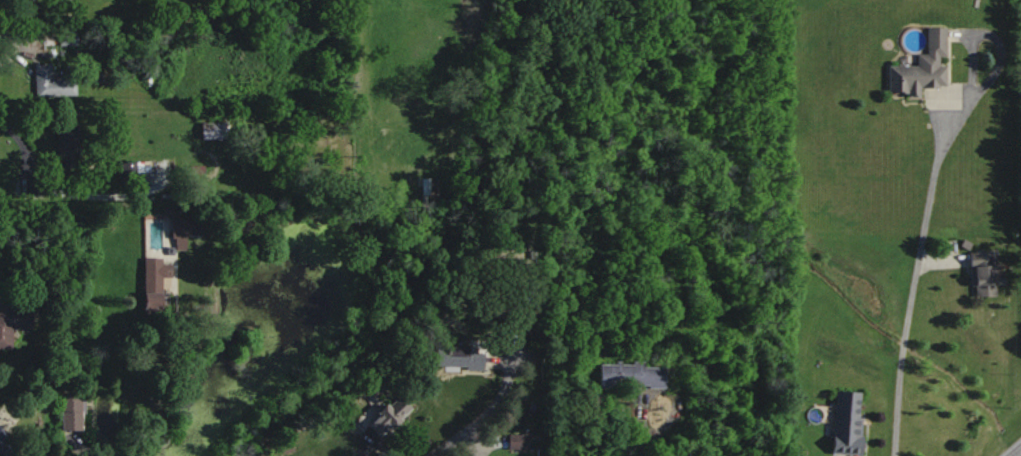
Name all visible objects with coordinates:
building: (70, 36)
road: (29, 47)
building: (918, 66)
building: (55, 82)
building: (217, 129)
building: (70, 145)
building: (135, 172)
road: (62, 190)
building: (194, 227)
building: (156, 273)
building: (981, 273)
road: (914, 281)
building: (531, 290)
building: (12, 320)
building: (462, 356)
road: (148, 358)
building: (633, 375)
building: (75, 411)
building: (393, 415)
road: (479, 420)
building: (851, 421)
road: (644, 432)
building: (521, 441)
road: (145, 442)
road: (1016, 452)

